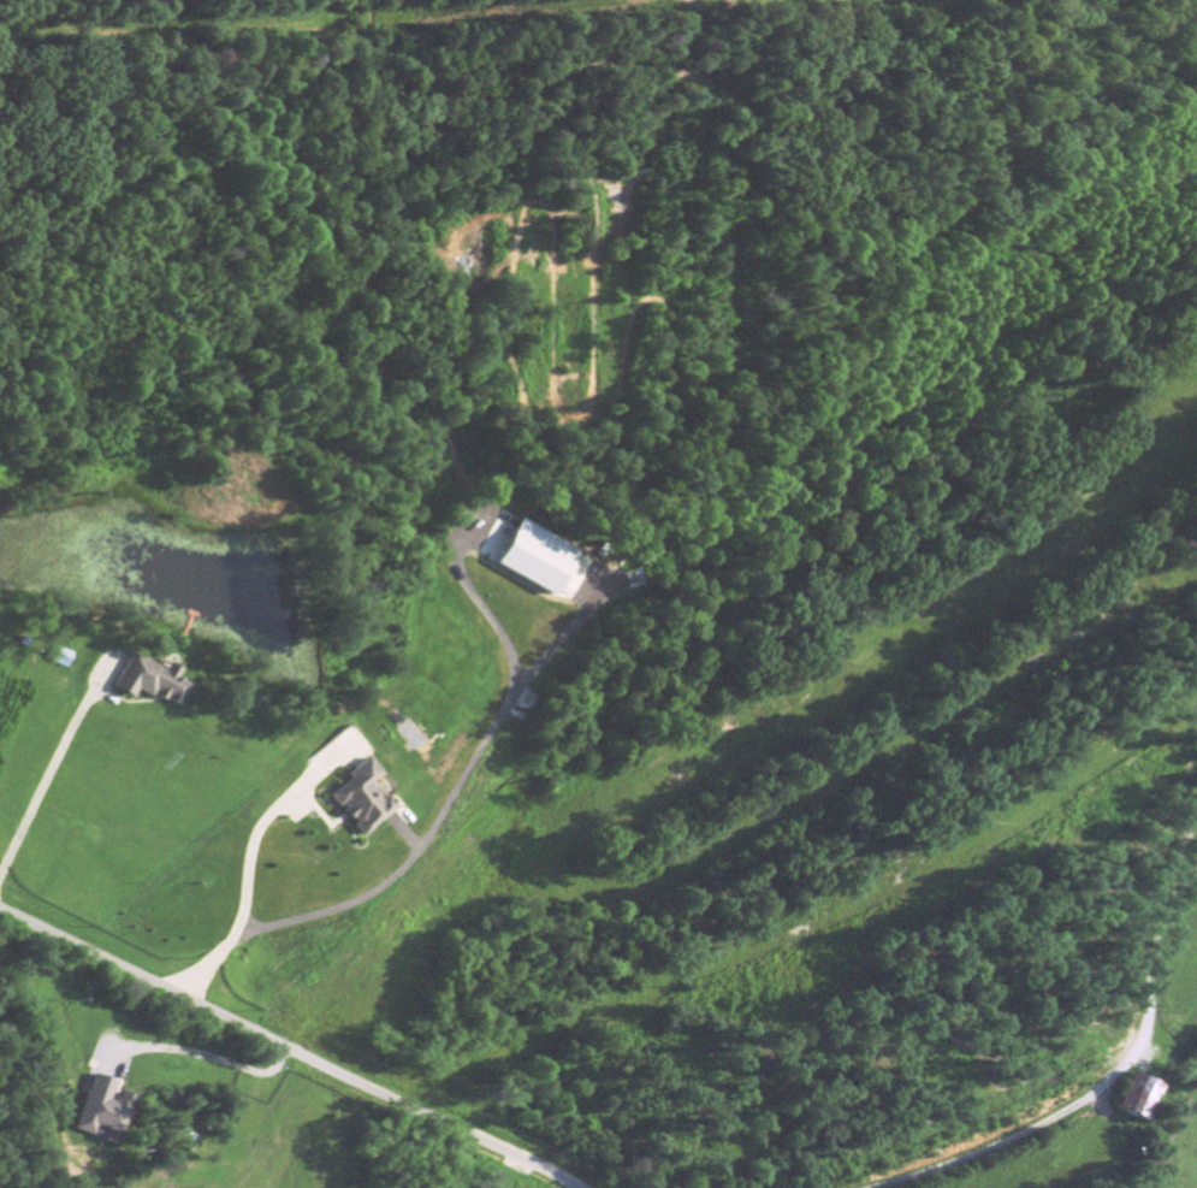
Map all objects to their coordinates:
building: (529, 554)
building: (574, 580)
building: (60, 660)
building: (149, 682)
road: (49, 767)
building: (362, 800)
road: (450, 805)
road: (247, 873)
road: (288, 1050)
road: (202, 1059)
road: (1095, 1082)
building: (1139, 1099)
building: (105, 1110)

